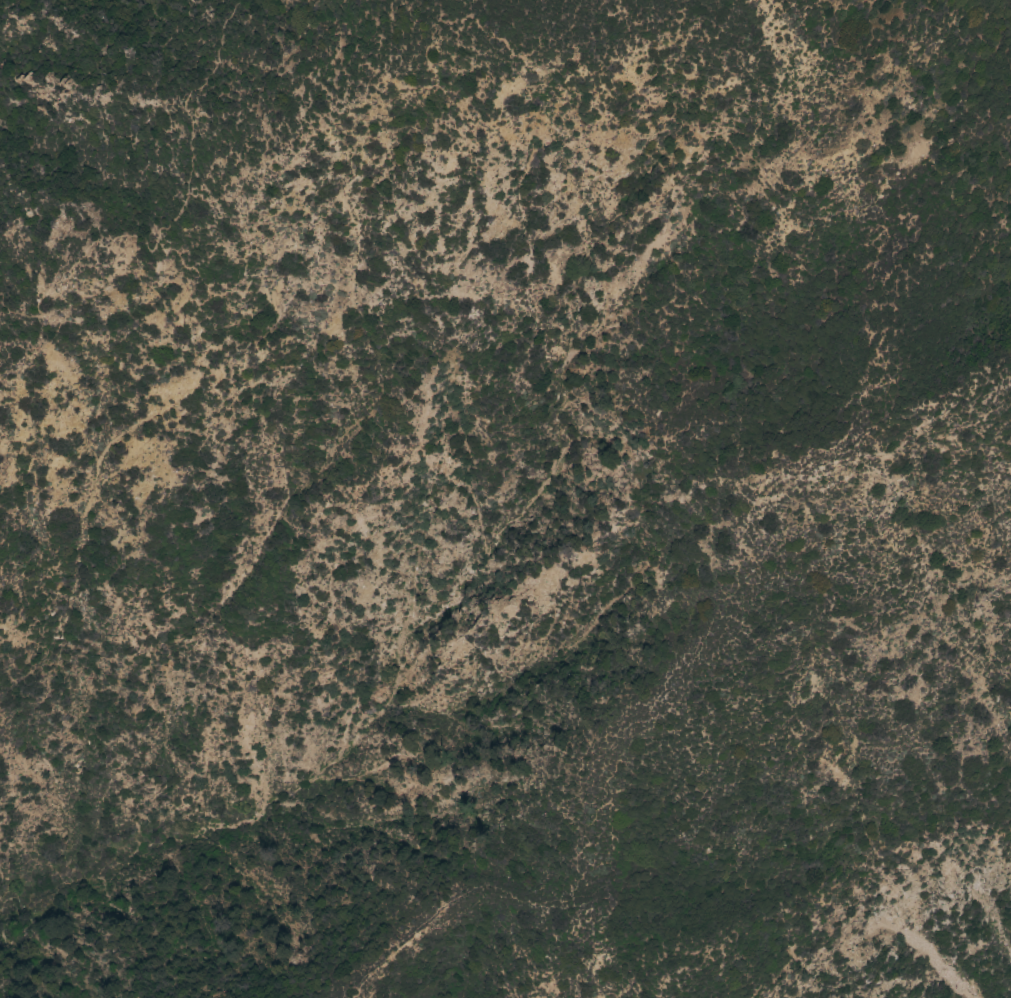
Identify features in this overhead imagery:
road: (180, 205)
road: (751, 509)

